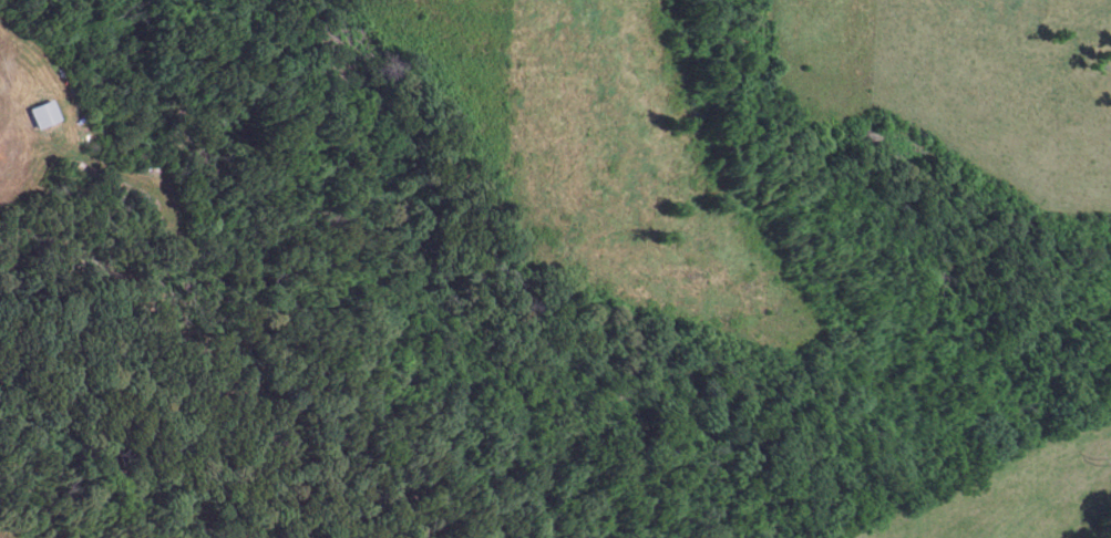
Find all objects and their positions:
building: (44, 114)

